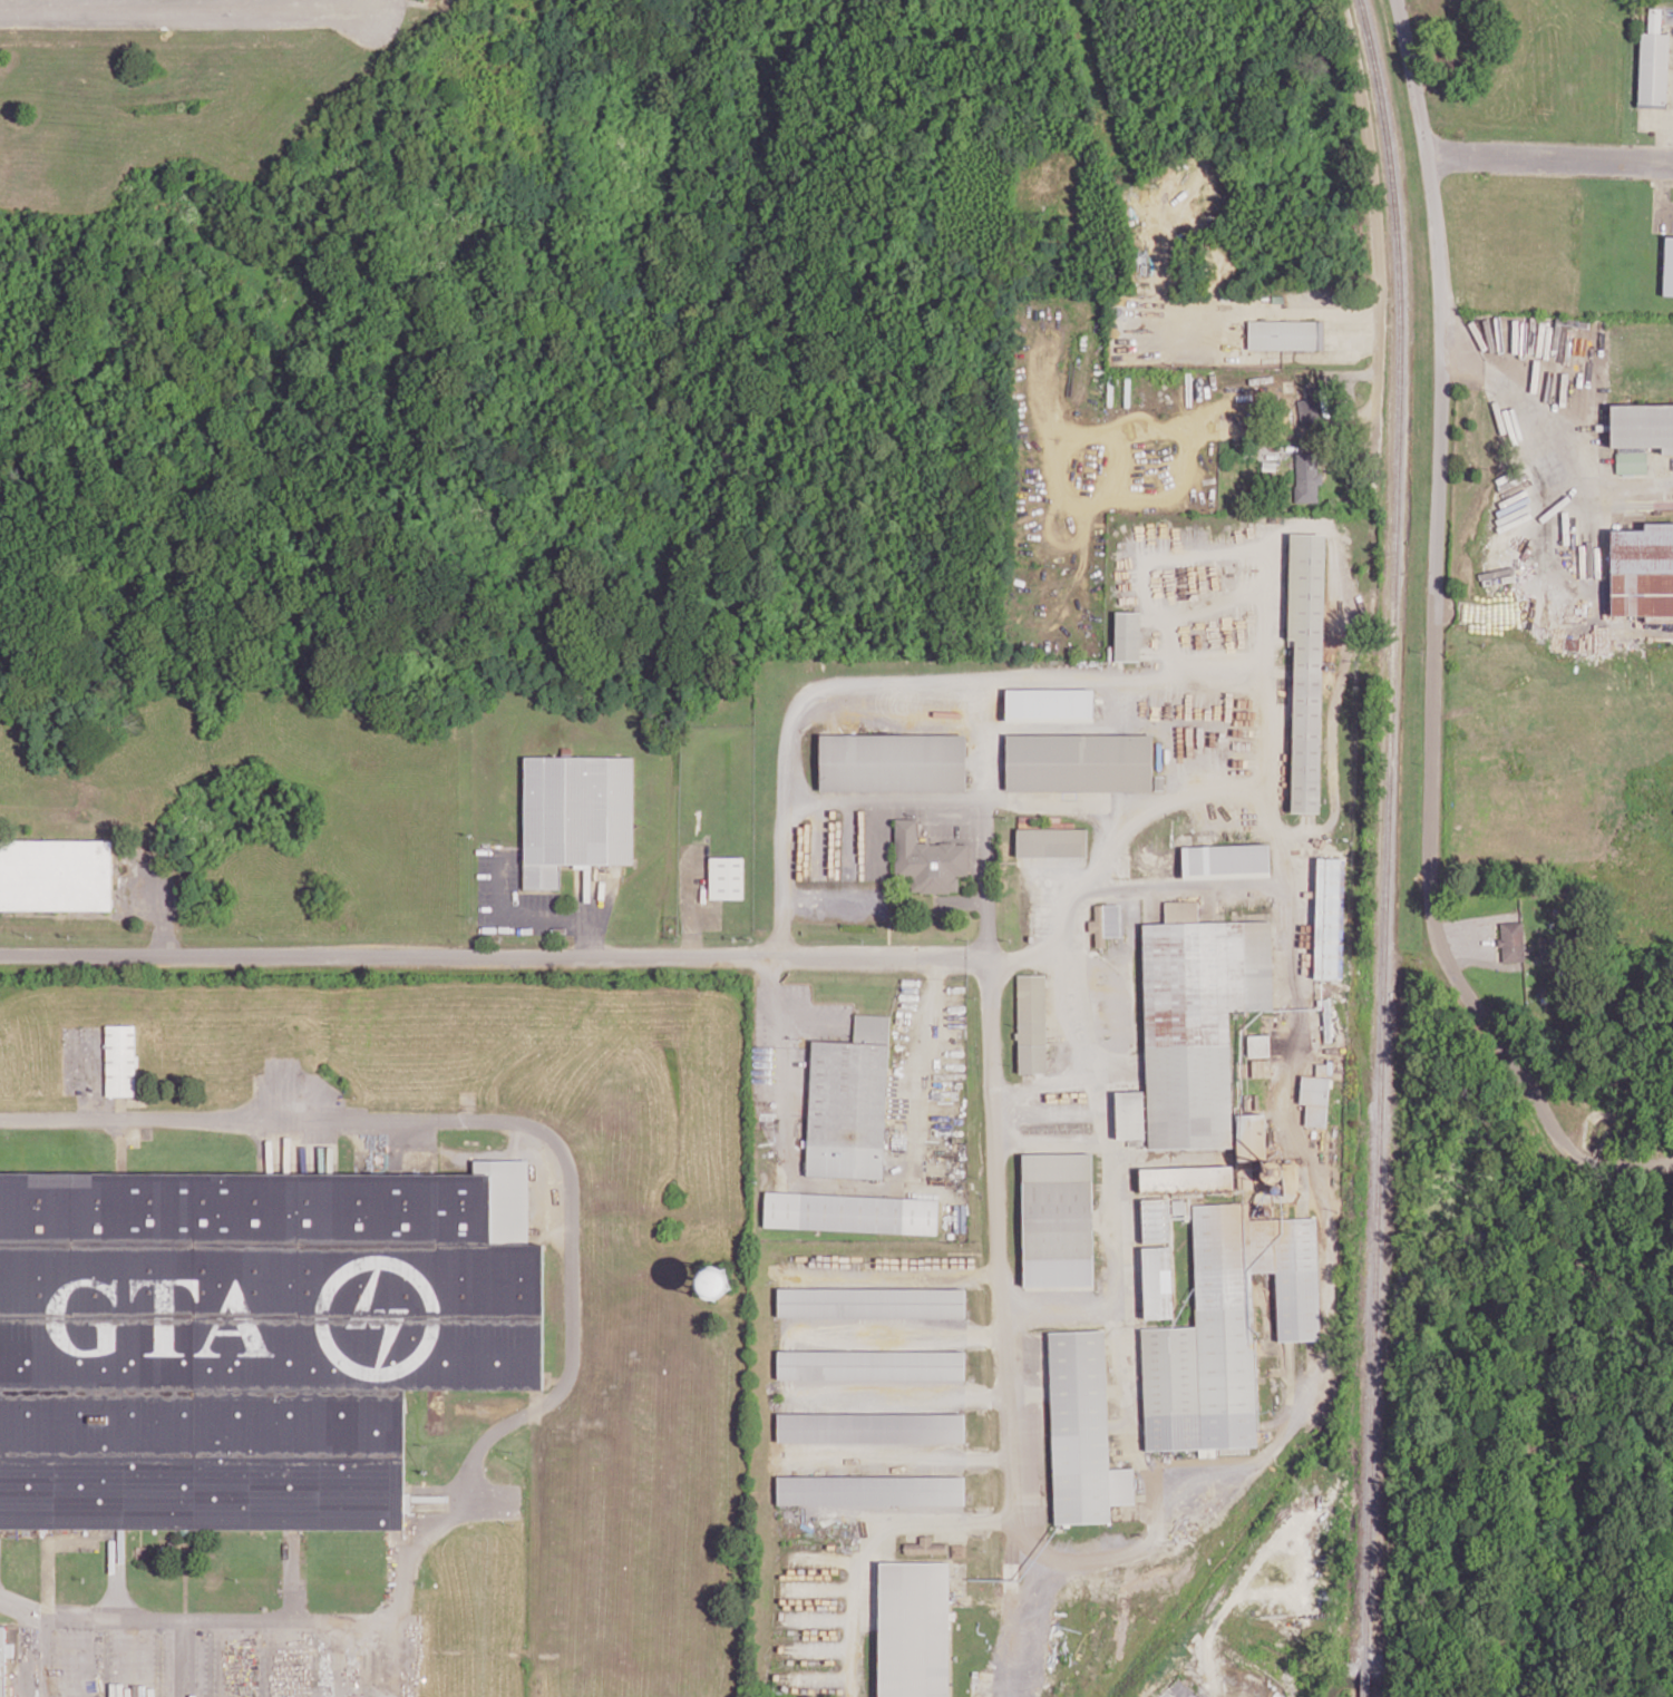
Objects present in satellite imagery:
road: (264, 4)
road: (184, 10)
building: (1653, 64)
road: (1549, 155)
road: (1380, 250)
building: (1669, 266)
building: (1285, 334)
road: (1190, 335)
building: (1640, 433)
road: (1546, 439)
building: (1307, 476)
road: (1439, 498)
building: (1643, 572)
building: (1127, 635)
building: (1306, 665)
road: (946, 683)
building: (1049, 701)
building: (892, 760)
building: (1079, 760)
road: (972, 800)
building: (575, 815)
building: (1051, 841)
railway: (1388, 847)
building: (1226, 858)
building: (928, 859)
road: (1092, 864)
building: (56, 875)
building: (726, 877)
road: (983, 878)
road: (1179, 885)
flagpole: (934, 911)
building: (1330, 918)
building: (1106, 923)
building: (1511, 940)
road: (492, 954)
road: (934, 966)
road: (1116, 984)
road: (771, 999)
road: (811, 1018)
building: (1031, 1023)
building: (1258, 1045)
road: (1073, 1053)
building: (1196, 1055)
building: (120, 1060)
building: (1315, 1099)
building: (849, 1102)
road: (1048, 1115)
road: (1546, 1118)
road: (554, 1138)
road: (1049, 1139)
road: (882, 1184)
building: (850, 1212)
building: (1058, 1219)
road: (1108, 1226)
building: (716, 1281)
building: (1157, 1281)
water tower: (704, 1291)
building: (870, 1303)
building: (1226, 1328)
road: (894, 1332)
building: (243, 1342)
building: (870, 1366)
road: (898, 1392)
building: (870, 1430)
building: (1082, 1431)
street lamp: (510, 1451)
road: (898, 1454)
building: (870, 1488)
road: (1207, 1500)
road: (911, 1514)
street lamp: (512, 1521)
building: (925, 1547)
road: (87, 1613)
road: (270, 1616)
building: (914, 1629)
street lamp: (210, 1630)
street lamp: (105, 1631)
street lamp: (313, 1631)
road: (31, 1636)
road: (181, 1657)
road: (396, 1658)
building: (1, 1660)

